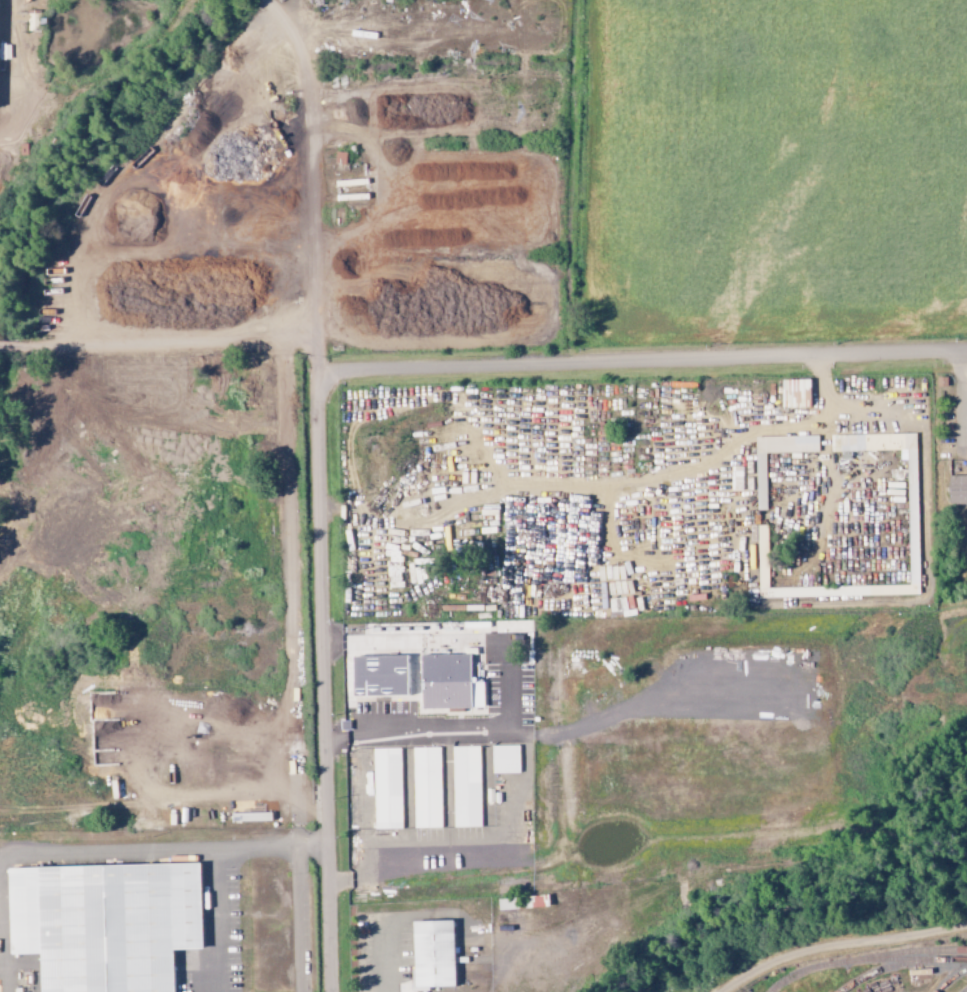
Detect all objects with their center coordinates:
building: (0, 12)
road: (159, 338)
road: (643, 362)
building: (795, 392)
building: (760, 482)
building: (957, 489)
road: (321, 491)
building: (911, 492)
building: (477, 627)
building: (380, 676)
building: (446, 682)
building: (505, 760)
building: (466, 787)
building: (387, 788)
building: (426, 788)
building: (116, 925)
road: (840, 943)
building: (433, 955)
railway: (866, 960)

